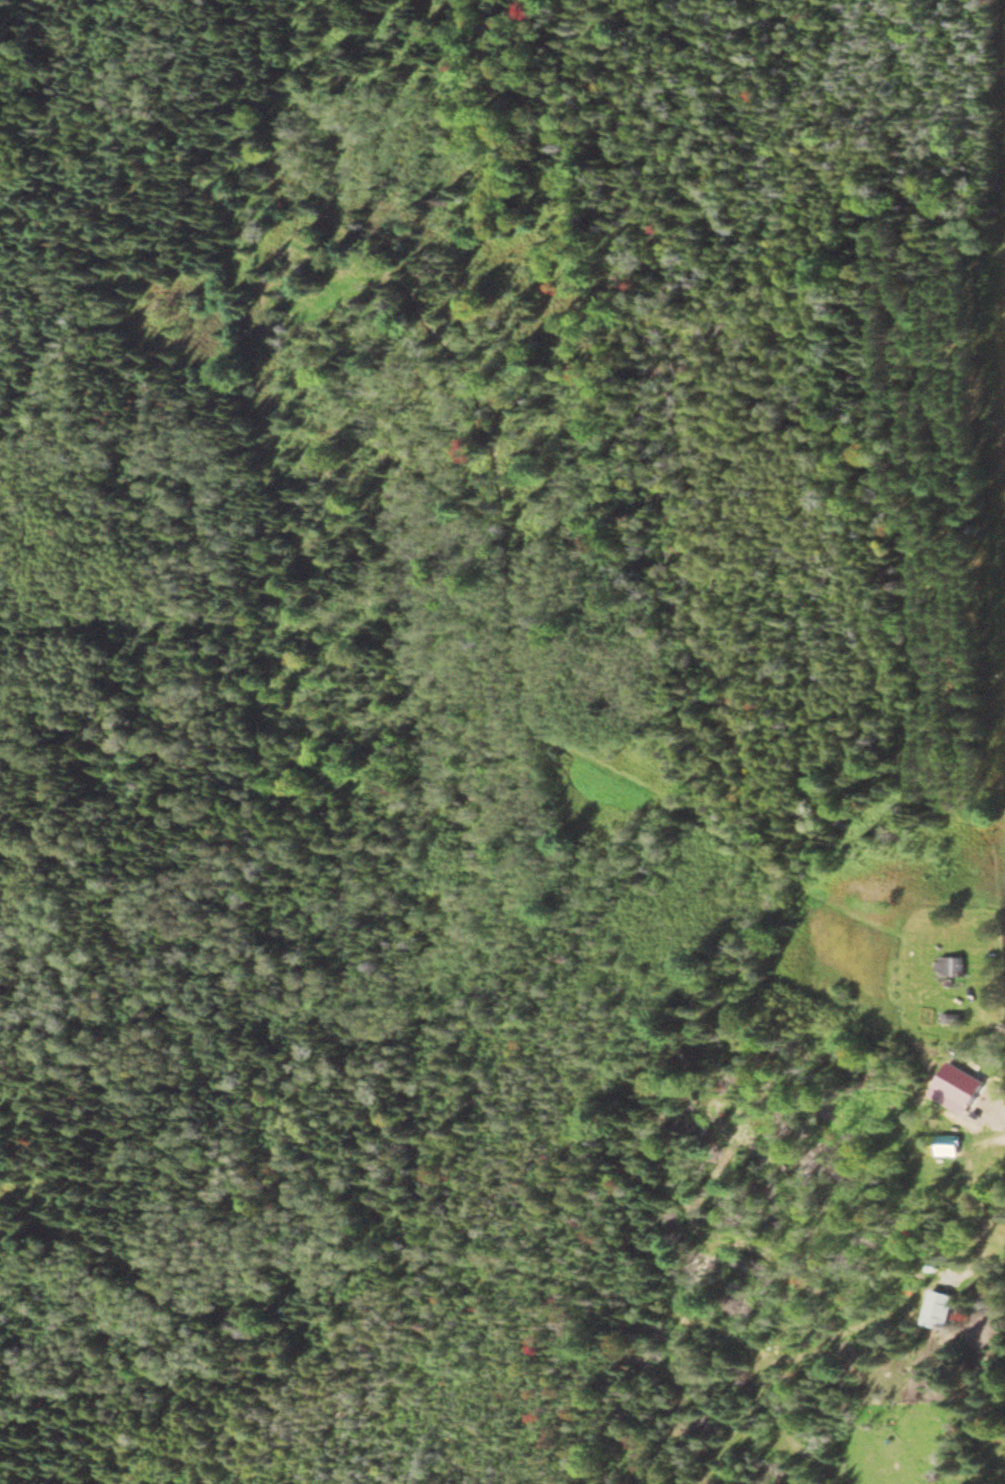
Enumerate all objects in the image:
building: (953, 967)
building: (955, 1019)
building: (949, 1145)
building: (938, 1310)

